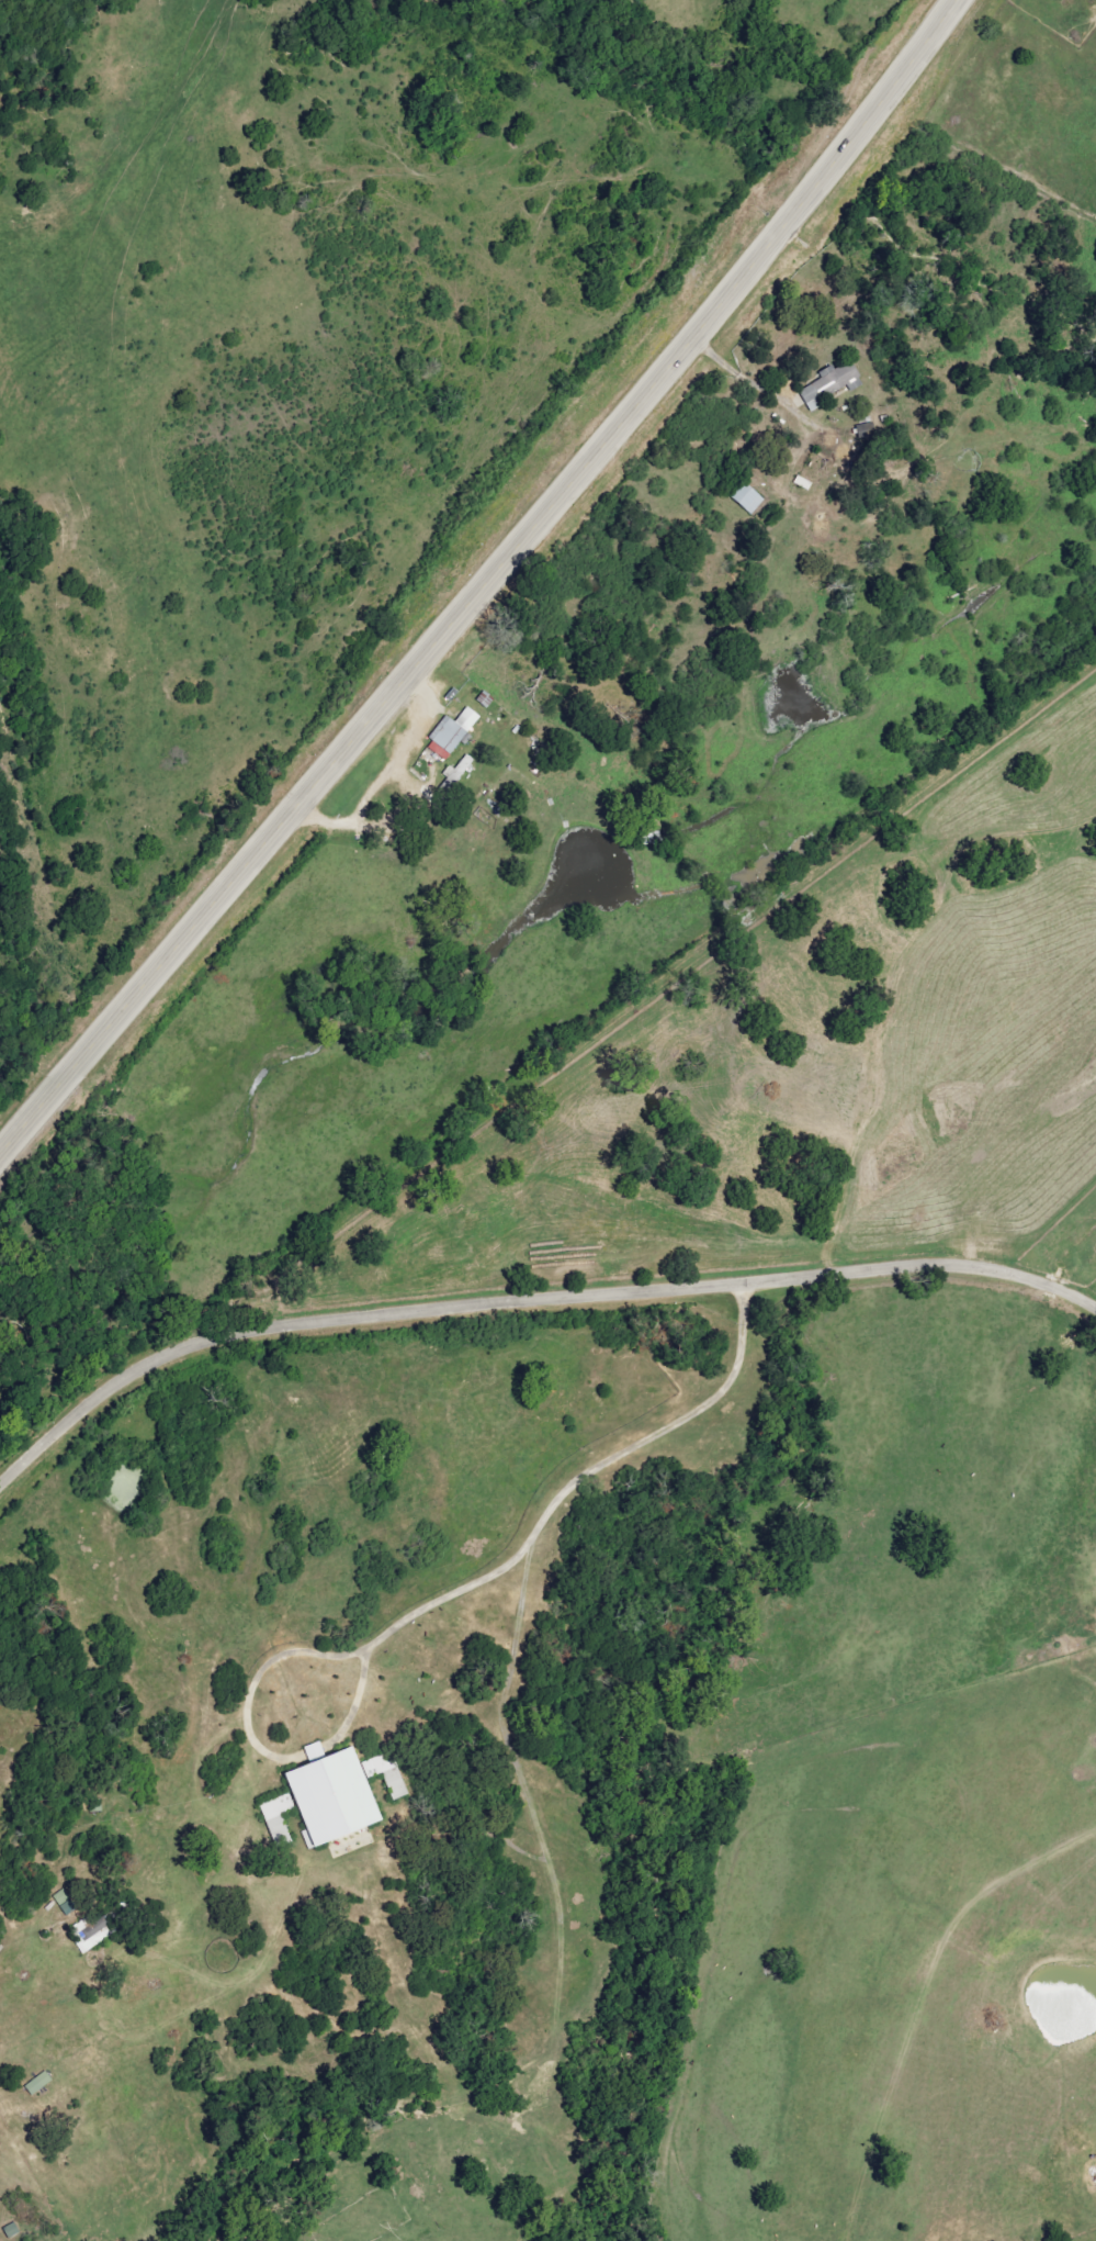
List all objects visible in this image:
building: (833, 383)
building: (748, 497)
road: (483, 584)
building: (452, 733)
building: (462, 767)
road: (524, 1302)
road: (535, 1546)
building: (387, 1774)
building: (334, 1796)
building: (278, 1812)
building: (95, 1934)

